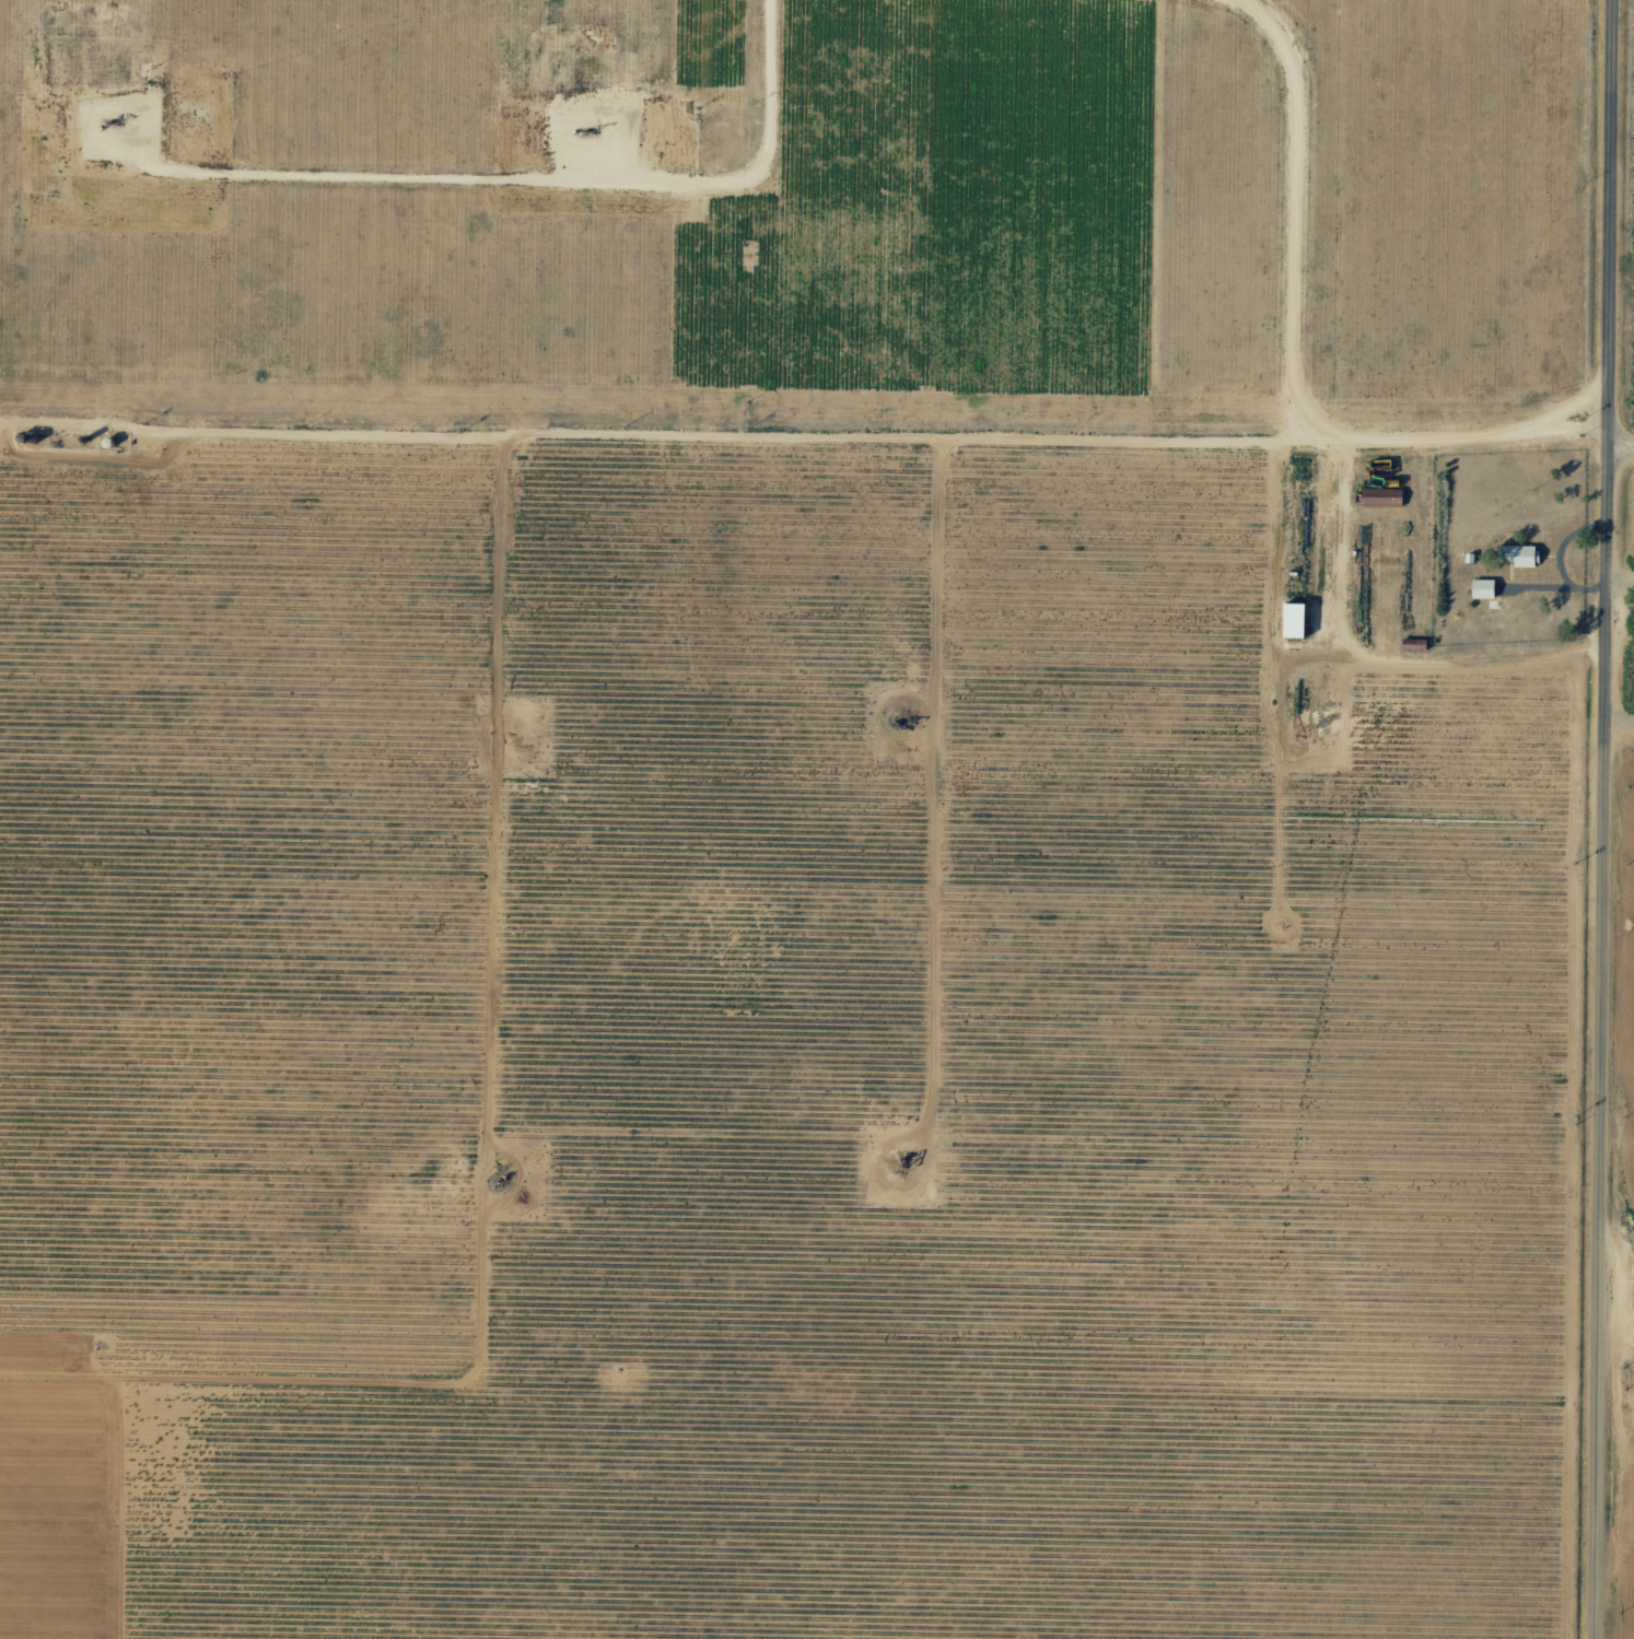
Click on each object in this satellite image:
road: (1329, 227)
road: (804, 453)
road: (1621, 468)
building: (1518, 553)
building: (1484, 587)
road: (1603, 819)

